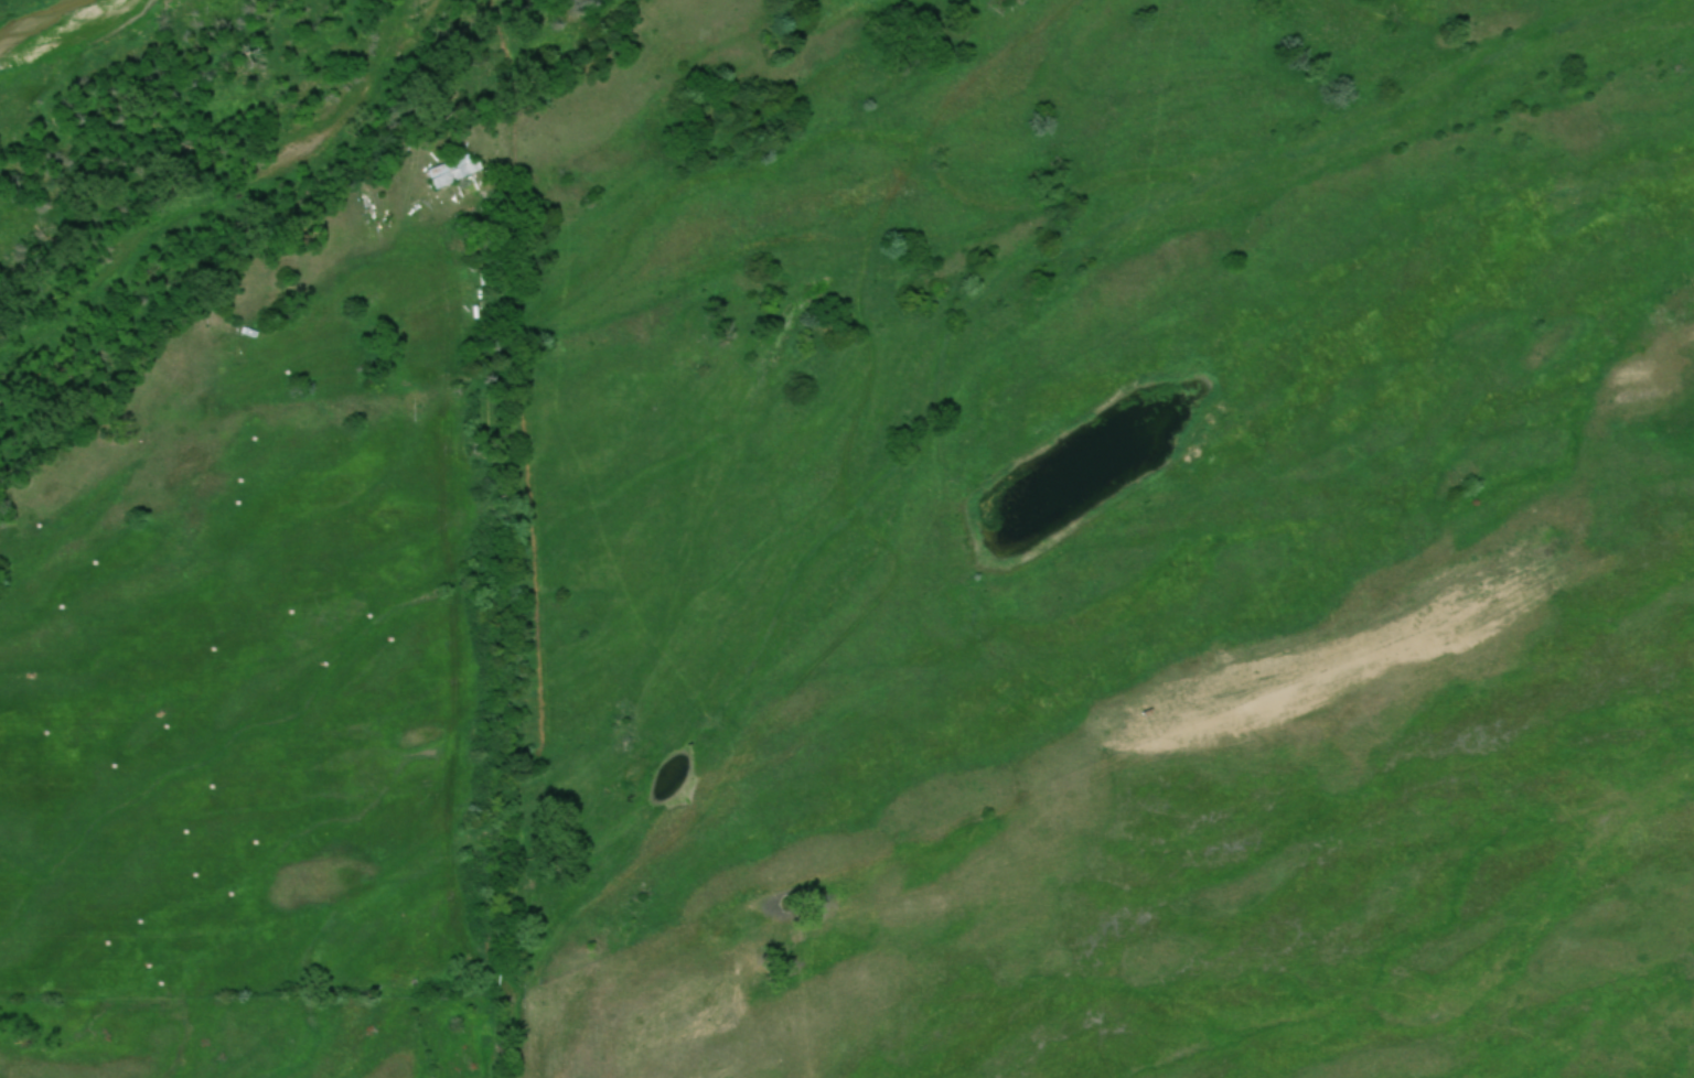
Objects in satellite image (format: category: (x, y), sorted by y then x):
building: (454, 171)
road: (517, 1059)

